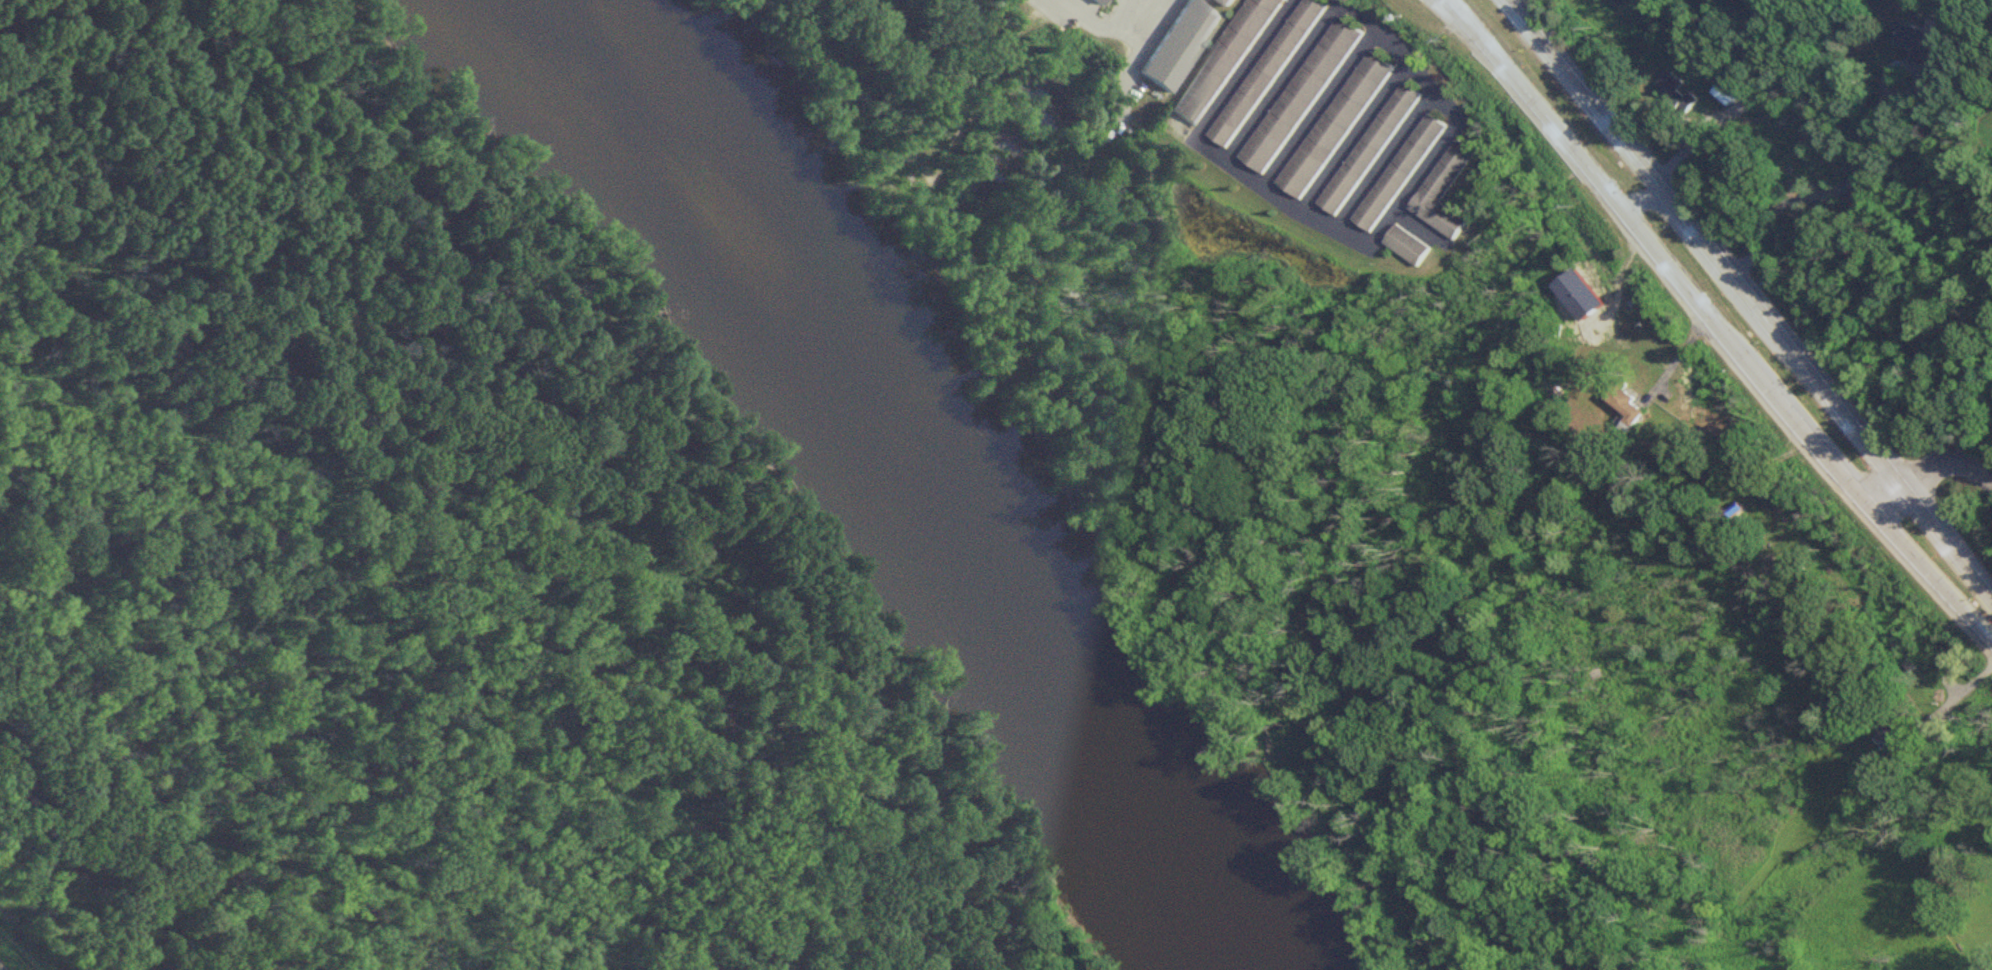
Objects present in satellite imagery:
building: (1101, 1)
building: (1227, 1)
road: (1102, 23)
building: (1178, 43)
building: (1921, 43)
building: (1223, 59)
building: (1265, 72)
building: (1300, 95)
building: (1334, 125)
building: (1368, 149)
building: (1399, 172)
building: (1443, 190)
road: (1826, 190)
road: (1344, 236)
building: (1408, 244)
road: (1751, 304)
road: (1713, 323)
road: (1676, 359)
building: (1625, 403)
road: (1926, 466)
river: (906, 470)
park: (422, 559)
road: (1960, 690)
road: (942, 742)

